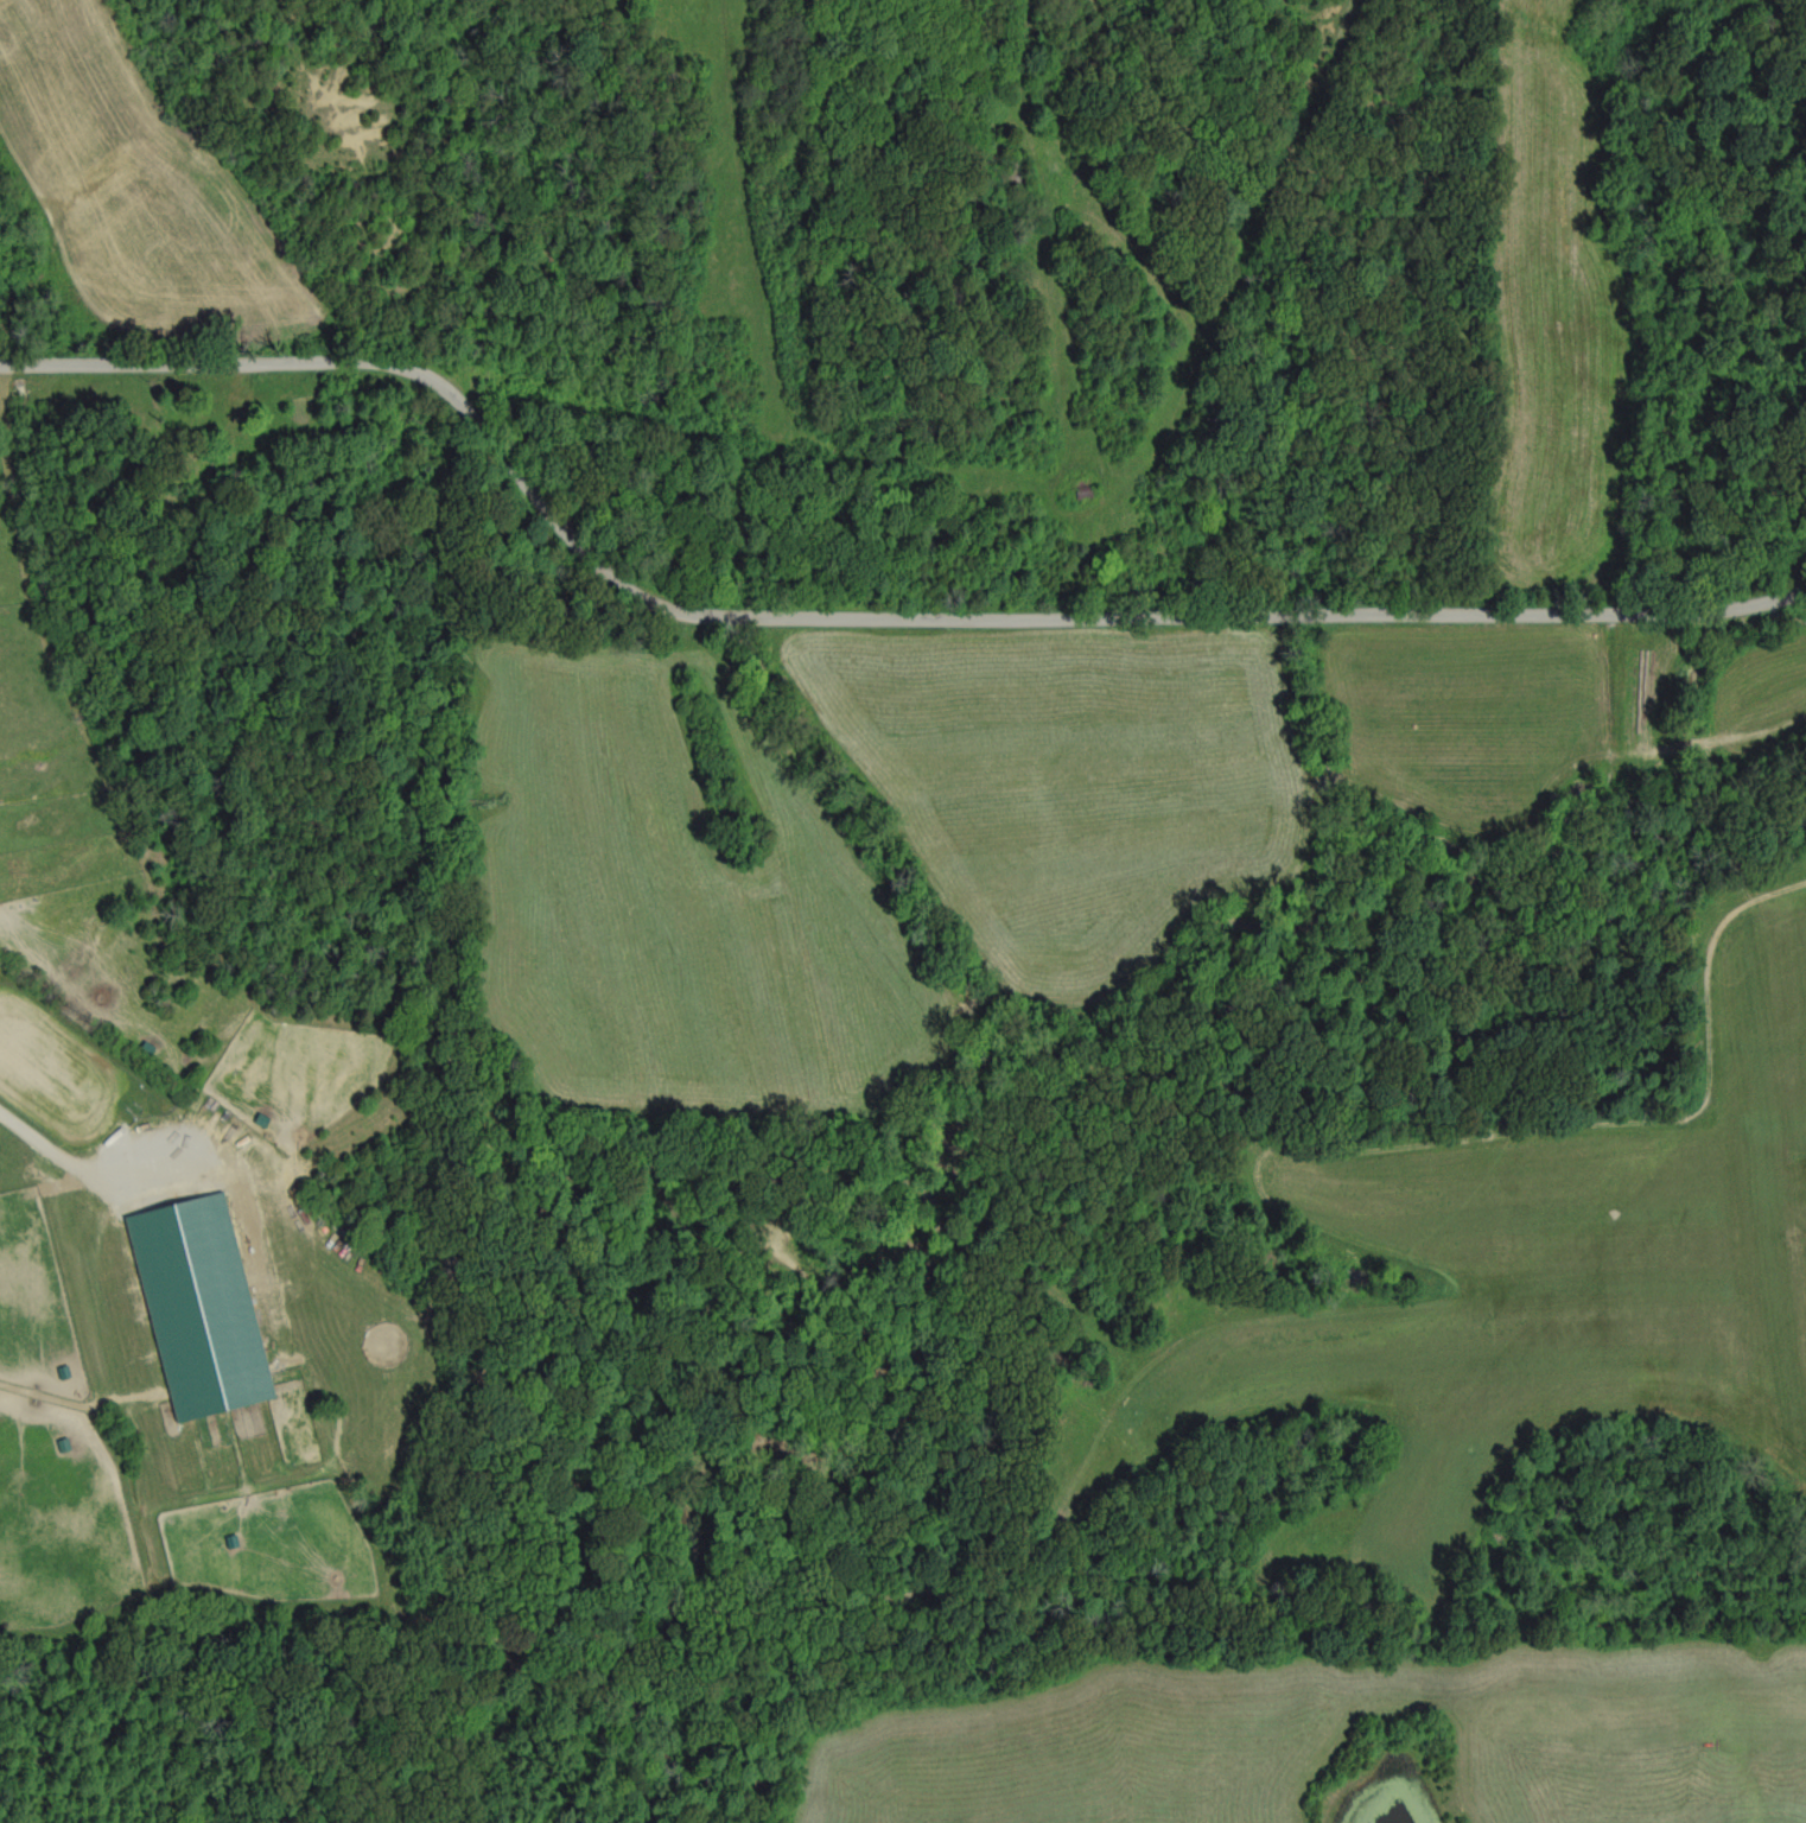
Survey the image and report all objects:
road: (858, 612)
building: (197, 1308)

